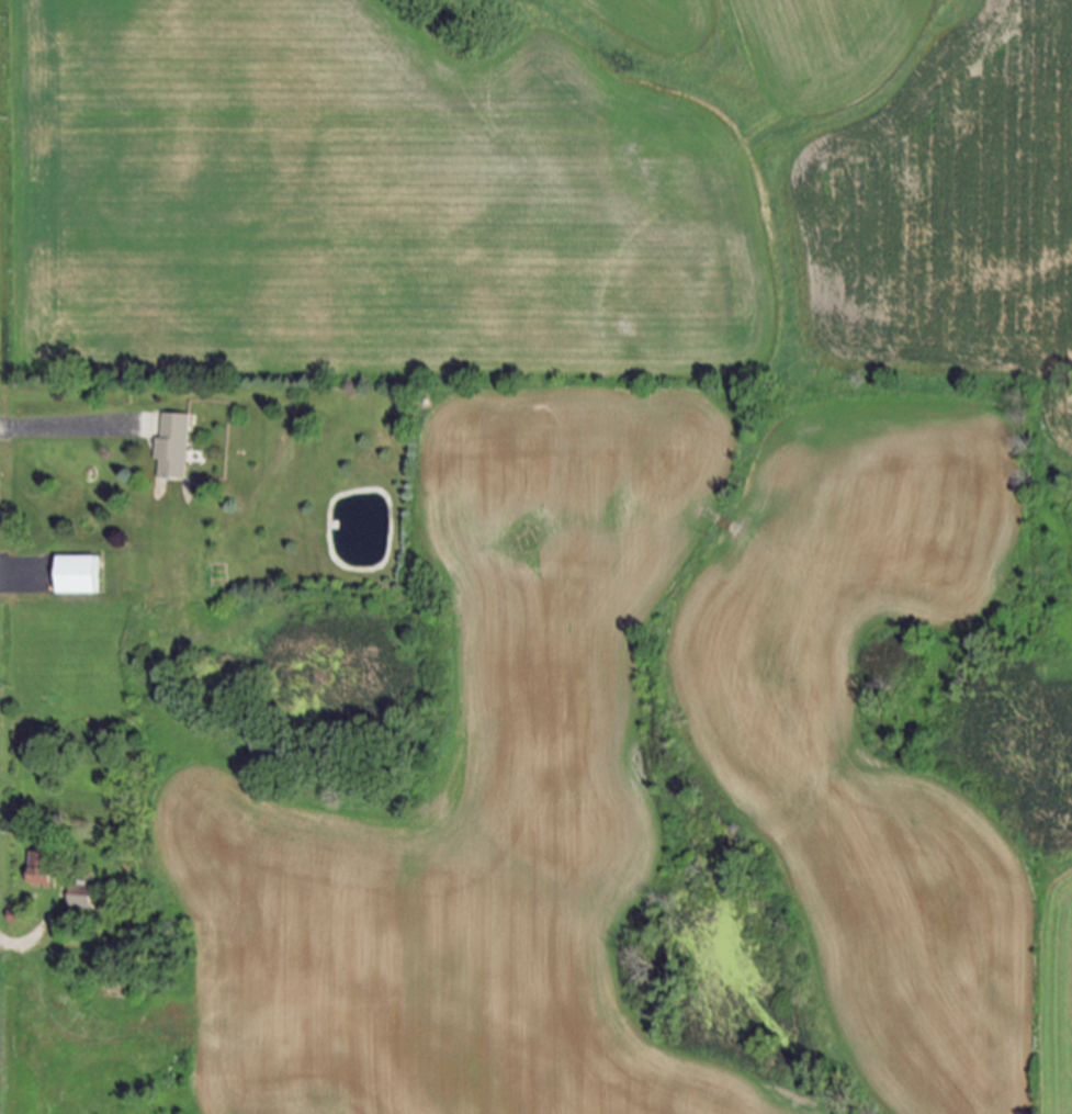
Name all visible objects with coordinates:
crop: (655, 23)
crop: (824, 48)
crop: (947, 214)
road: (63, 427)
building: (167, 442)
crop: (416, 498)
building: (76, 575)
road: (18, 577)
crop: (778, 751)
building: (38, 869)
building: (79, 898)

